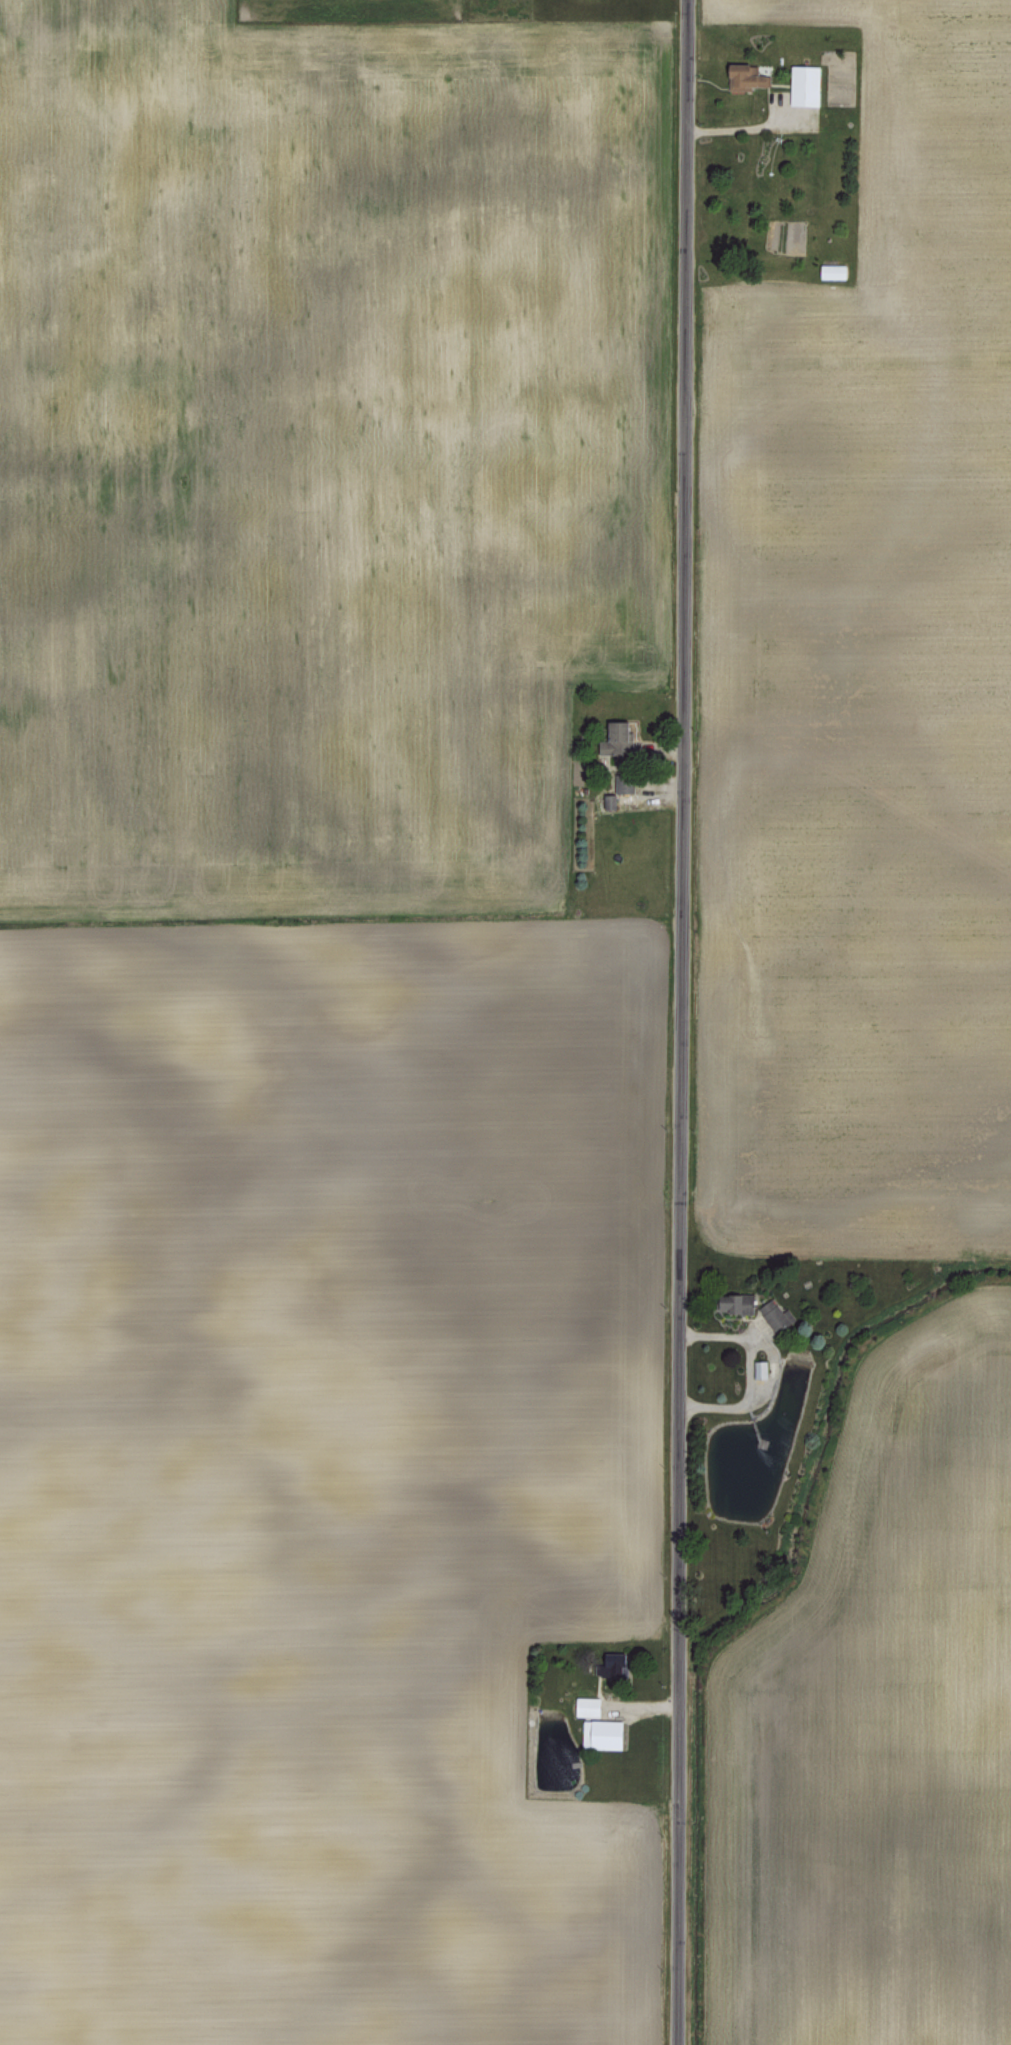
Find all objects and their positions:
building: (808, 84)
road: (746, 126)
road: (678, 1022)
road: (749, 1369)
building: (591, 1706)

